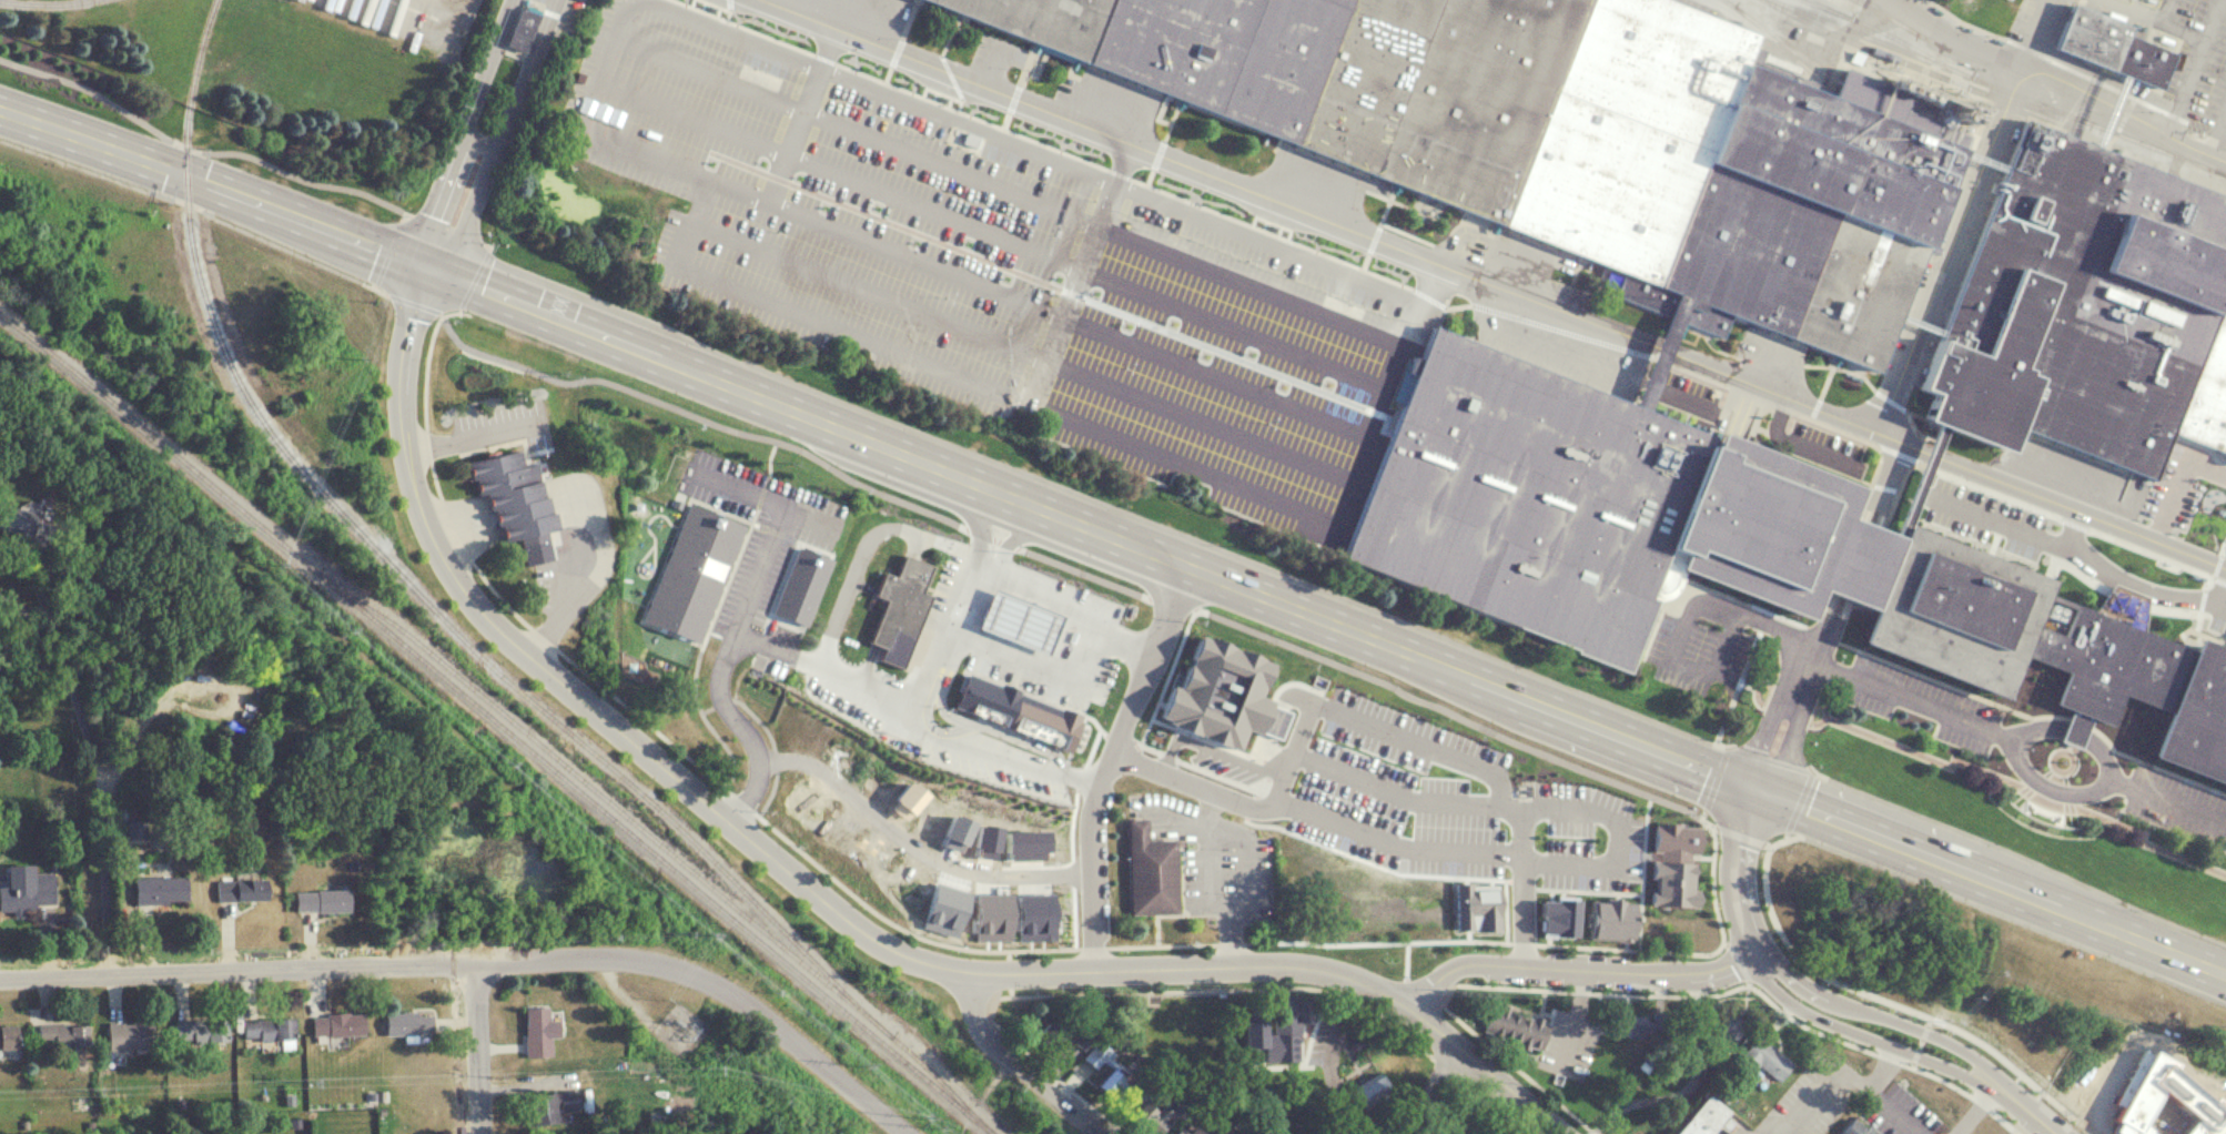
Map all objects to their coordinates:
railway: (38, 2)
railway: (1823, 4)
railway: (1880, 12)
road: (2146, 12)
railway: (1871, 24)
building: (518, 29)
road: (1950, 33)
railway: (1783, 38)
road: (610, 43)
building: (2105, 45)
road: (2188, 65)
railway: (2025, 79)
railway: (1999, 87)
road: (2119, 110)
road: (799, 114)
road: (2216, 123)
road: (1074, 124)
road: (459, 131)
building: (1572, 133)
road: (495, 138)
building: (969, 140)
road: (202, 149)
road: (675, 165)
road: (1117, 182)
road: (403, 219)
road: (1953, 221)
road: (447, 227)
road: (264, 235)
road: (488, 243)
road: (1390, 246)
road: (387, 253)
road: (915, 257)
traffic signals: (425, 267)
road: (474, 277)
road: (376, 283)
road: (414, 301)
road: (459, 307)
building: (2084, 307)
road: (441, 312)
road: (807, 321)
road: (1659, 350)
road: (1793, 403)
road: (697, 415)
road: (877, 443)
road: (1926, 455)
road: (1879, 487)
parking lot: (763, 494)
road: (763, 496)
building: (509, 497)
road: (2080, 510)
road: (974, 516)
building: (27, 523)
road: (964, 525)
road: (1311, 525)
road: (979, 530)
road: (1012, 531)
road: (994, 537)
road: (1008, 543)
building: (1713, 547)
road: (1846, 564)
road: (1083, 570)
railway: (403, 571)
building: (694, 571)
parking lot: (753, 577)
road: (490, 583)
building: (803, 583)
road: (847, 588)
road: (1058, 591)
road: (1042, 595)
road: (1172, 603)
road: (973, 604)
road: (741, 607)
building: (898, 608)
road: (1751, 615)
building: (1022, 621)
gas station: (1022, 621)
road: (1030, 625)
road: (1760, 625)
road: (1812, 646)
road: (1016, 654)
parking lot: (1696, 654)
road: (929, 664)
road: (1696, 670)
road: (1167, 672)
road: (1734, 690)
road: (575, 693)
road: (1905, 696)
building: (1021, 712)
road: (1095, 720)
railway: (499, 721)
road: (1374, 726)
road: (742, 727)
road: (2075, 730)
parking lot: (1404, 733)
road: (1121, 736)
road: (1763, 736)
road: (1139, 741)
road: (1152, 746)
road: (1729, 746)
road: (1784, 746)
road: (1171, 755)
road: (1299, 755)
road: (1771, 759)
road: (1111, 763)
building: (1317, 766)
road: (1598, 772)
road: (1227, 777)
road: (1716, 777)
road: (97, 778)
road: (1203, 787)
traffic signals: (1752, 787)
road: (2050, 787)
road: (1397, 791)
road: (1799, 799)
road: (741, 800)
road: (1496, 800)
road: (2174, 804)
parking lot: (1394, 812)
road: (1702, 812)
road: (1714, 826)
road: (1235, 831)
road: (1787, 832)
parking lot: (1588, 834)
road: (1739, 834)
road: (1397, 841)
railway: (664, 842)
road: (1767, 843)
road: (913, 844)
road: (1514, 853)
road: (2020, 855)
road: (1606, 862)
road: (1643, 870)
building: (1149, 871)
road: (1734, 871)
road: (1502, 877)
road: (1989, 881)
building: (1410, 882)
road: (1522, 882)
building: (164, 889)
building: (245, 889)
road: (1589, 889)
building: (31, 892)
road: (1216, 897)
building: (326, 899)
road: (2013, 919)
road: (897, 924)
road: (1308, 941)
road: (1524, 941)
road: (1724, 942)
road: (1092, 945)
road: (1008, 952)
building: (1765, 953)
road: (482, 959)
road: (1406, 959)
road: (1737, 960)
road: (1197, 968)
road: (1577, 968)
road: (1008, 971)
road: (1283, 988)
road: (1423, 989)
road: (1590, 990)
road: (1010, 991)
road: (1884, 998)
road: (991, 1008)
building: (1287, 1015)
road: (1893, 1019)
building: (411, 1022)
building: (341, 1023)
road: (1802, 1023)
building: (1723, 1024)
building: (1628, 1026)
building: (272, 1027)
building: (1512, 1027)
building: (204, 1029)
building: (539, 1031)
building: (134, 1033)
building: (64, 1035)
building: (11, 1036)
building: (1050, 1036)
building: (1079, 1037)
road: (1876, 1040)
road: (1919, 1040)
road: (478, 1046)
building: (1652, 1053)
road: (1884, 1055)
building: (1093, 1056)
building: (1759, 1060)
road: (1015, 1064)
road: (1517, 1067)
road: (1486, 1072)
road: (1936, 1075)
road: (1053, 1076)
building: (1157, 1080)
road: (1822, 1084)
building: (1109, 1085)
building: (2041, 1089)
building: (1366, 1091)
road: (1429, 1093)
road: (1879, 1093)
parking lot: (1811, 1094)
road: (1982, 1103)
building: (557, 1105)
building: (2154, 1105)
road: (1973, 1111)
parking lot: (1898, 1112)
road: (2040, 1116)
building: (1149, 1118)
building: (1706, 1118)
road: (2004, 1122)
parking lot: (1732, 1127)
building: (1854, 1127)
building: (1176, 1130)
building: (1447, 1132)
road: (1768, 1133)

